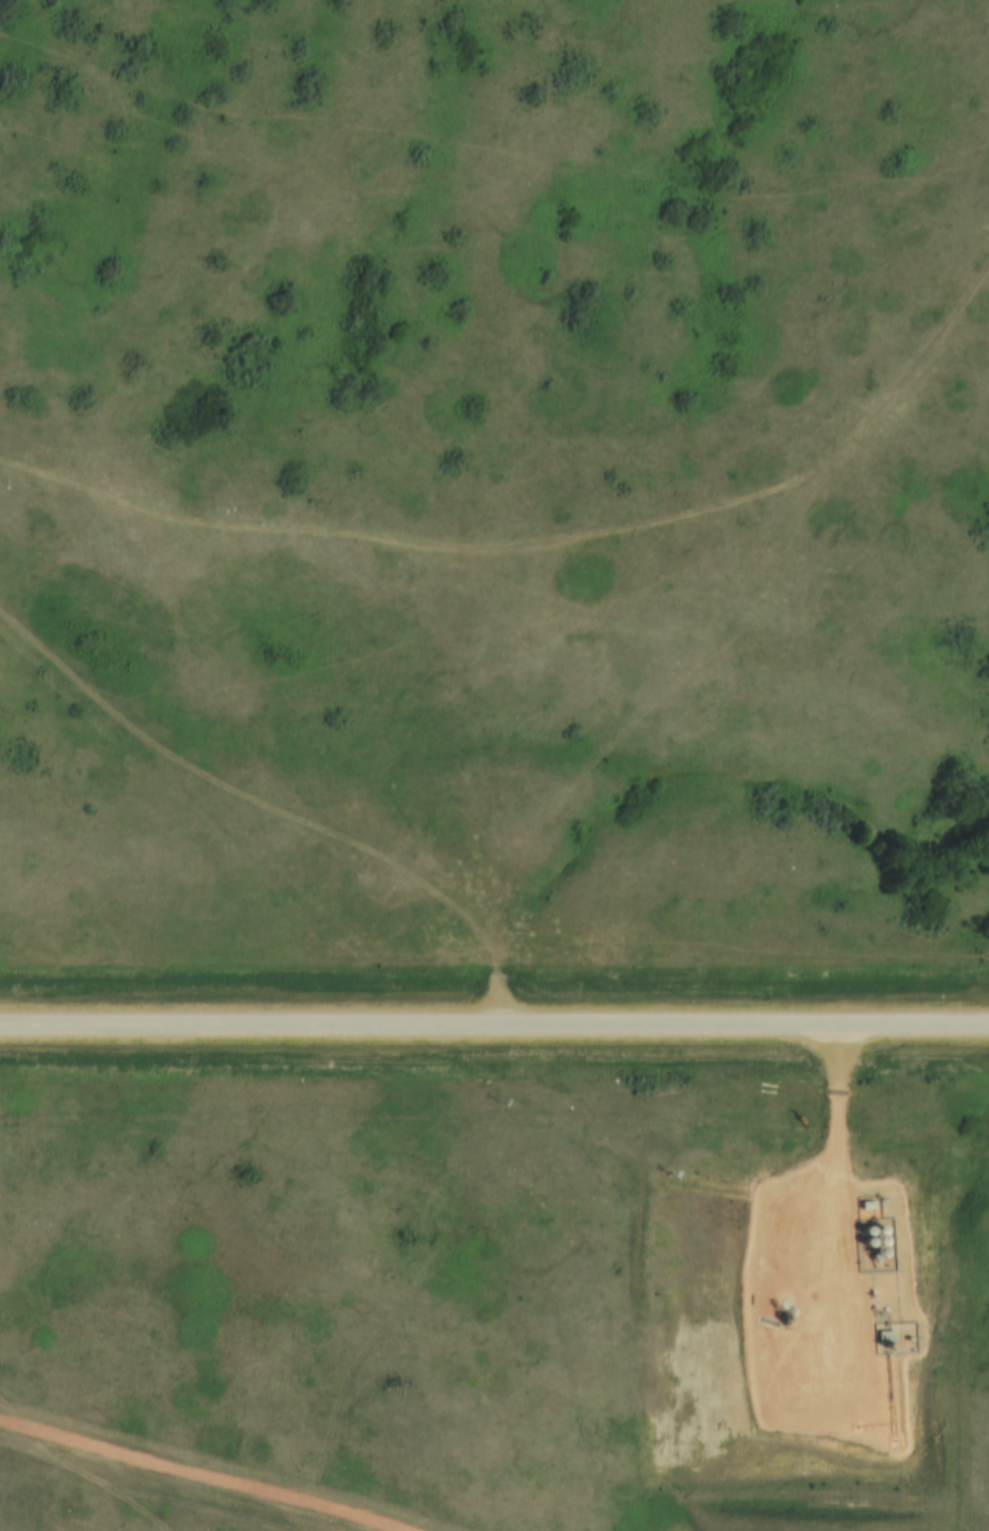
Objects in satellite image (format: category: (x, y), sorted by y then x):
road: (494, 1023)
road: (810, 1092)
building: (873, 1228)
storage tank: (873, 1228)
building: (860, 1229)
storage tank: (860, 1229)
building: (874, 1239)
storage tank: (874, 1239)
building: (861, 1241)
storage tank: (861, 1241)
building: (874, 1251)
storage tank: (874, 1251)
petroleum well: (784, 1311)
building: (886, 1338)

